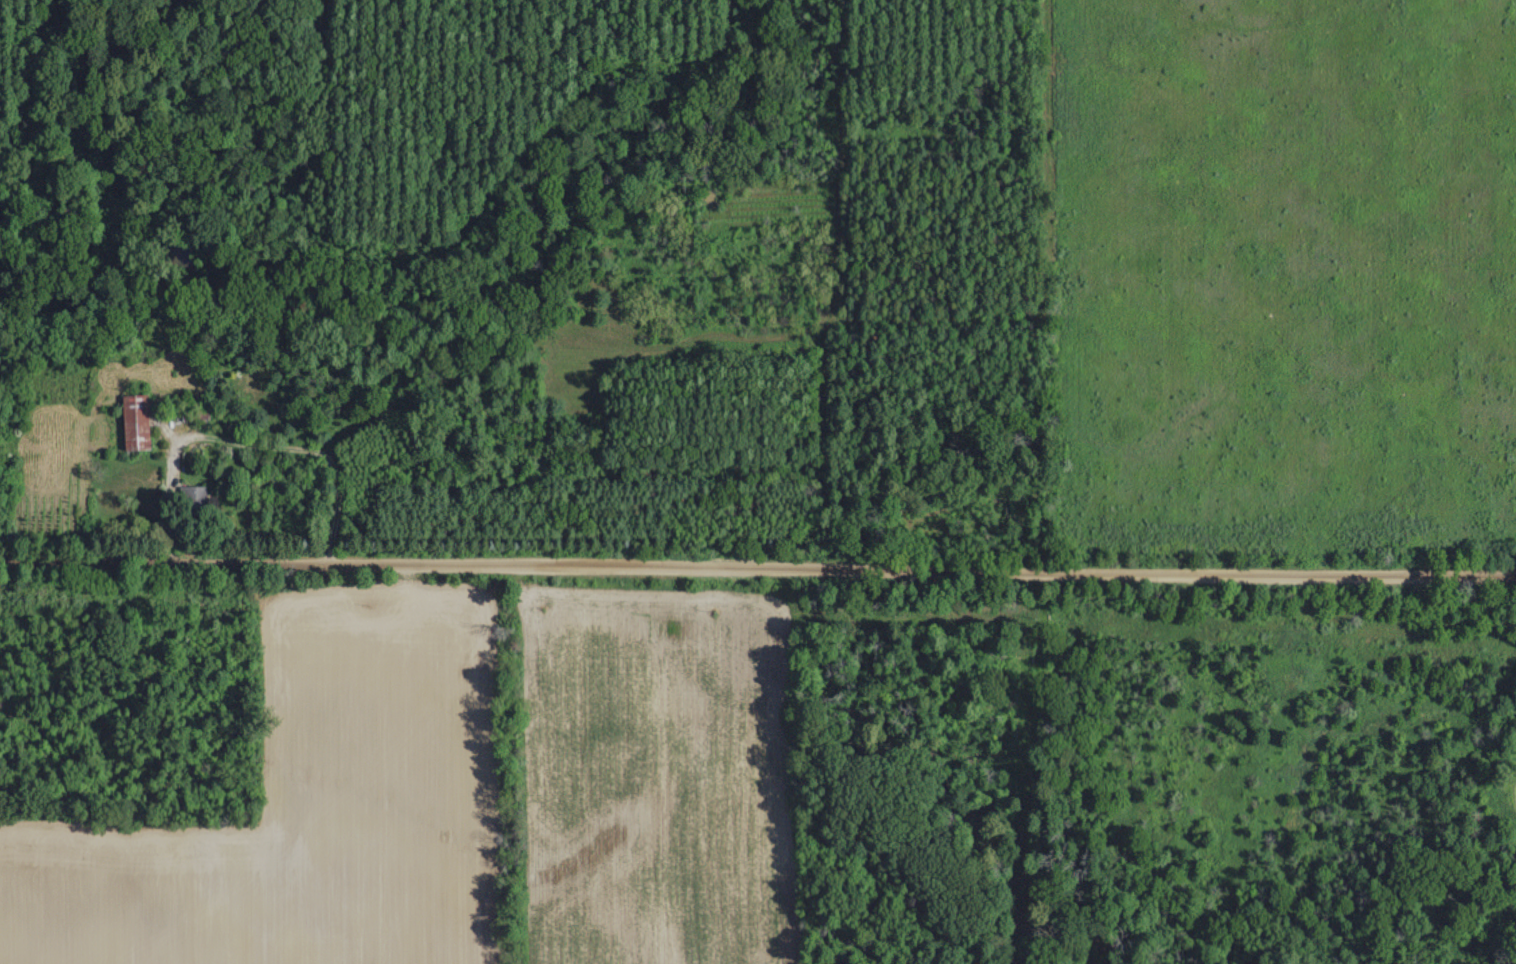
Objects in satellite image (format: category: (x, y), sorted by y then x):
building: (192, 412)
building: (133, 421)
road: (244, 448)
road: (757, 570)

